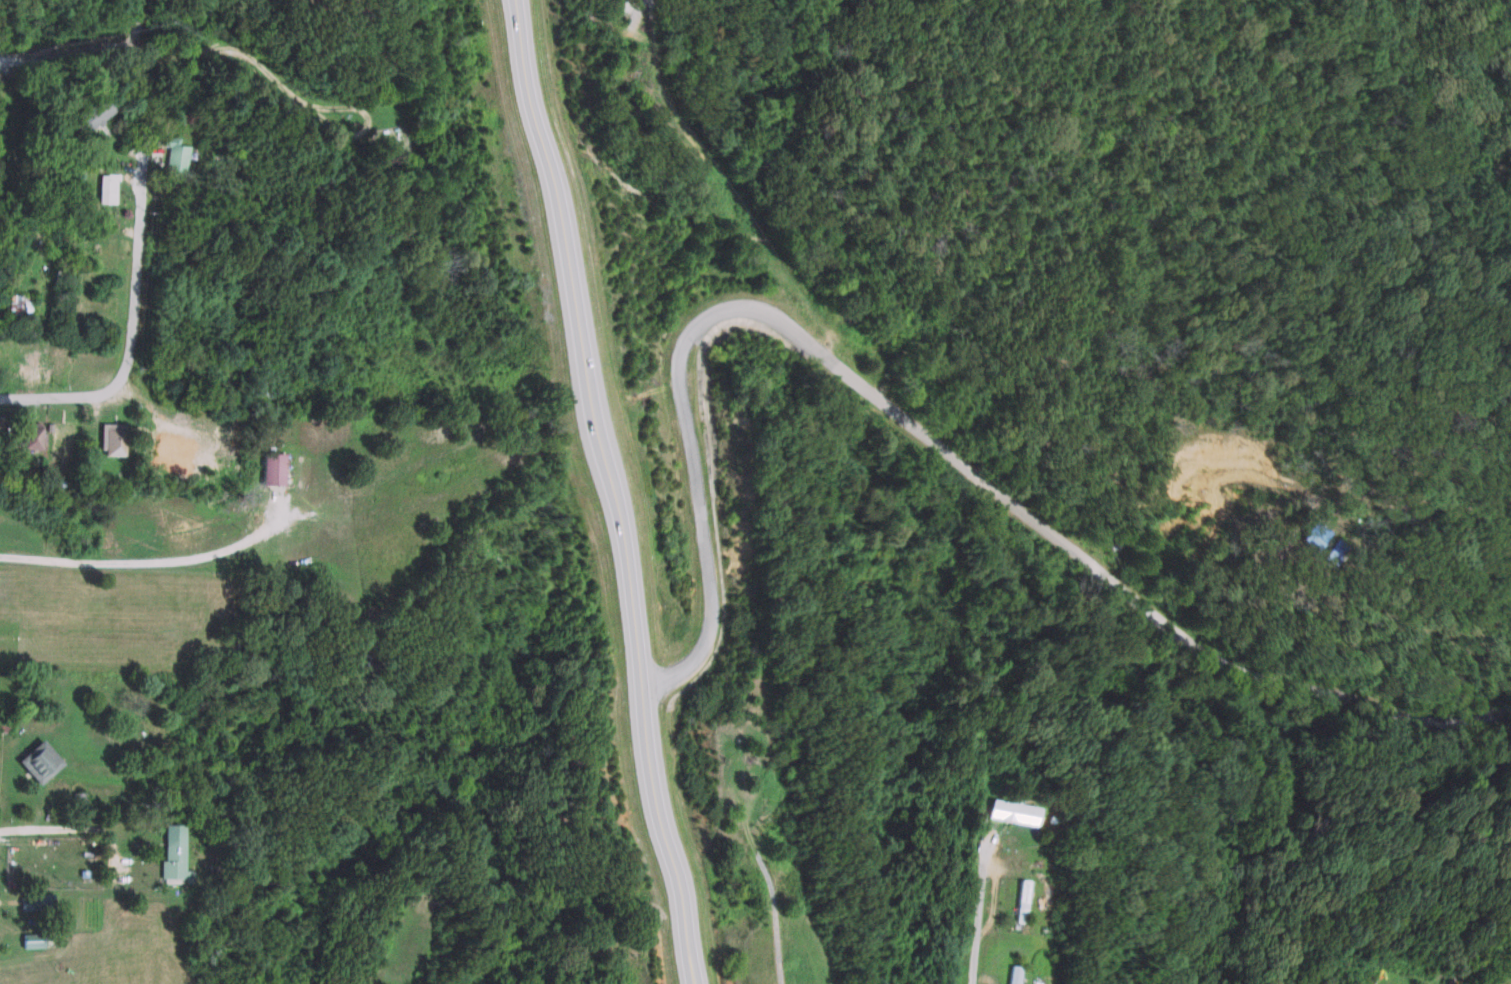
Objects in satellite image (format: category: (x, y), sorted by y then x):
road: (633, 12)
road: (136, 21)
road: (67, 51)
road: (218, 53)
building: (84, 117)
building: (170, 158)
building: (103, 188)
road: (133, 260)
building: (16, 303)
road: (827, 322)
road: (55, 395)
building: (27, 431)
building: (108, 440)
building: (267, 470)
road: (696, 484)
road: (595, 492)
road: (1118, 577)
building: (2, 723)
building: (34, 761)
building: (74, 802)
building: (1008, 811)
building: (168, 853)
road: (781, 893)
building: (1020, 900)
building: (34, 901)
road: (990, 914)
building: (28, 940)
building: (1012, 974)

